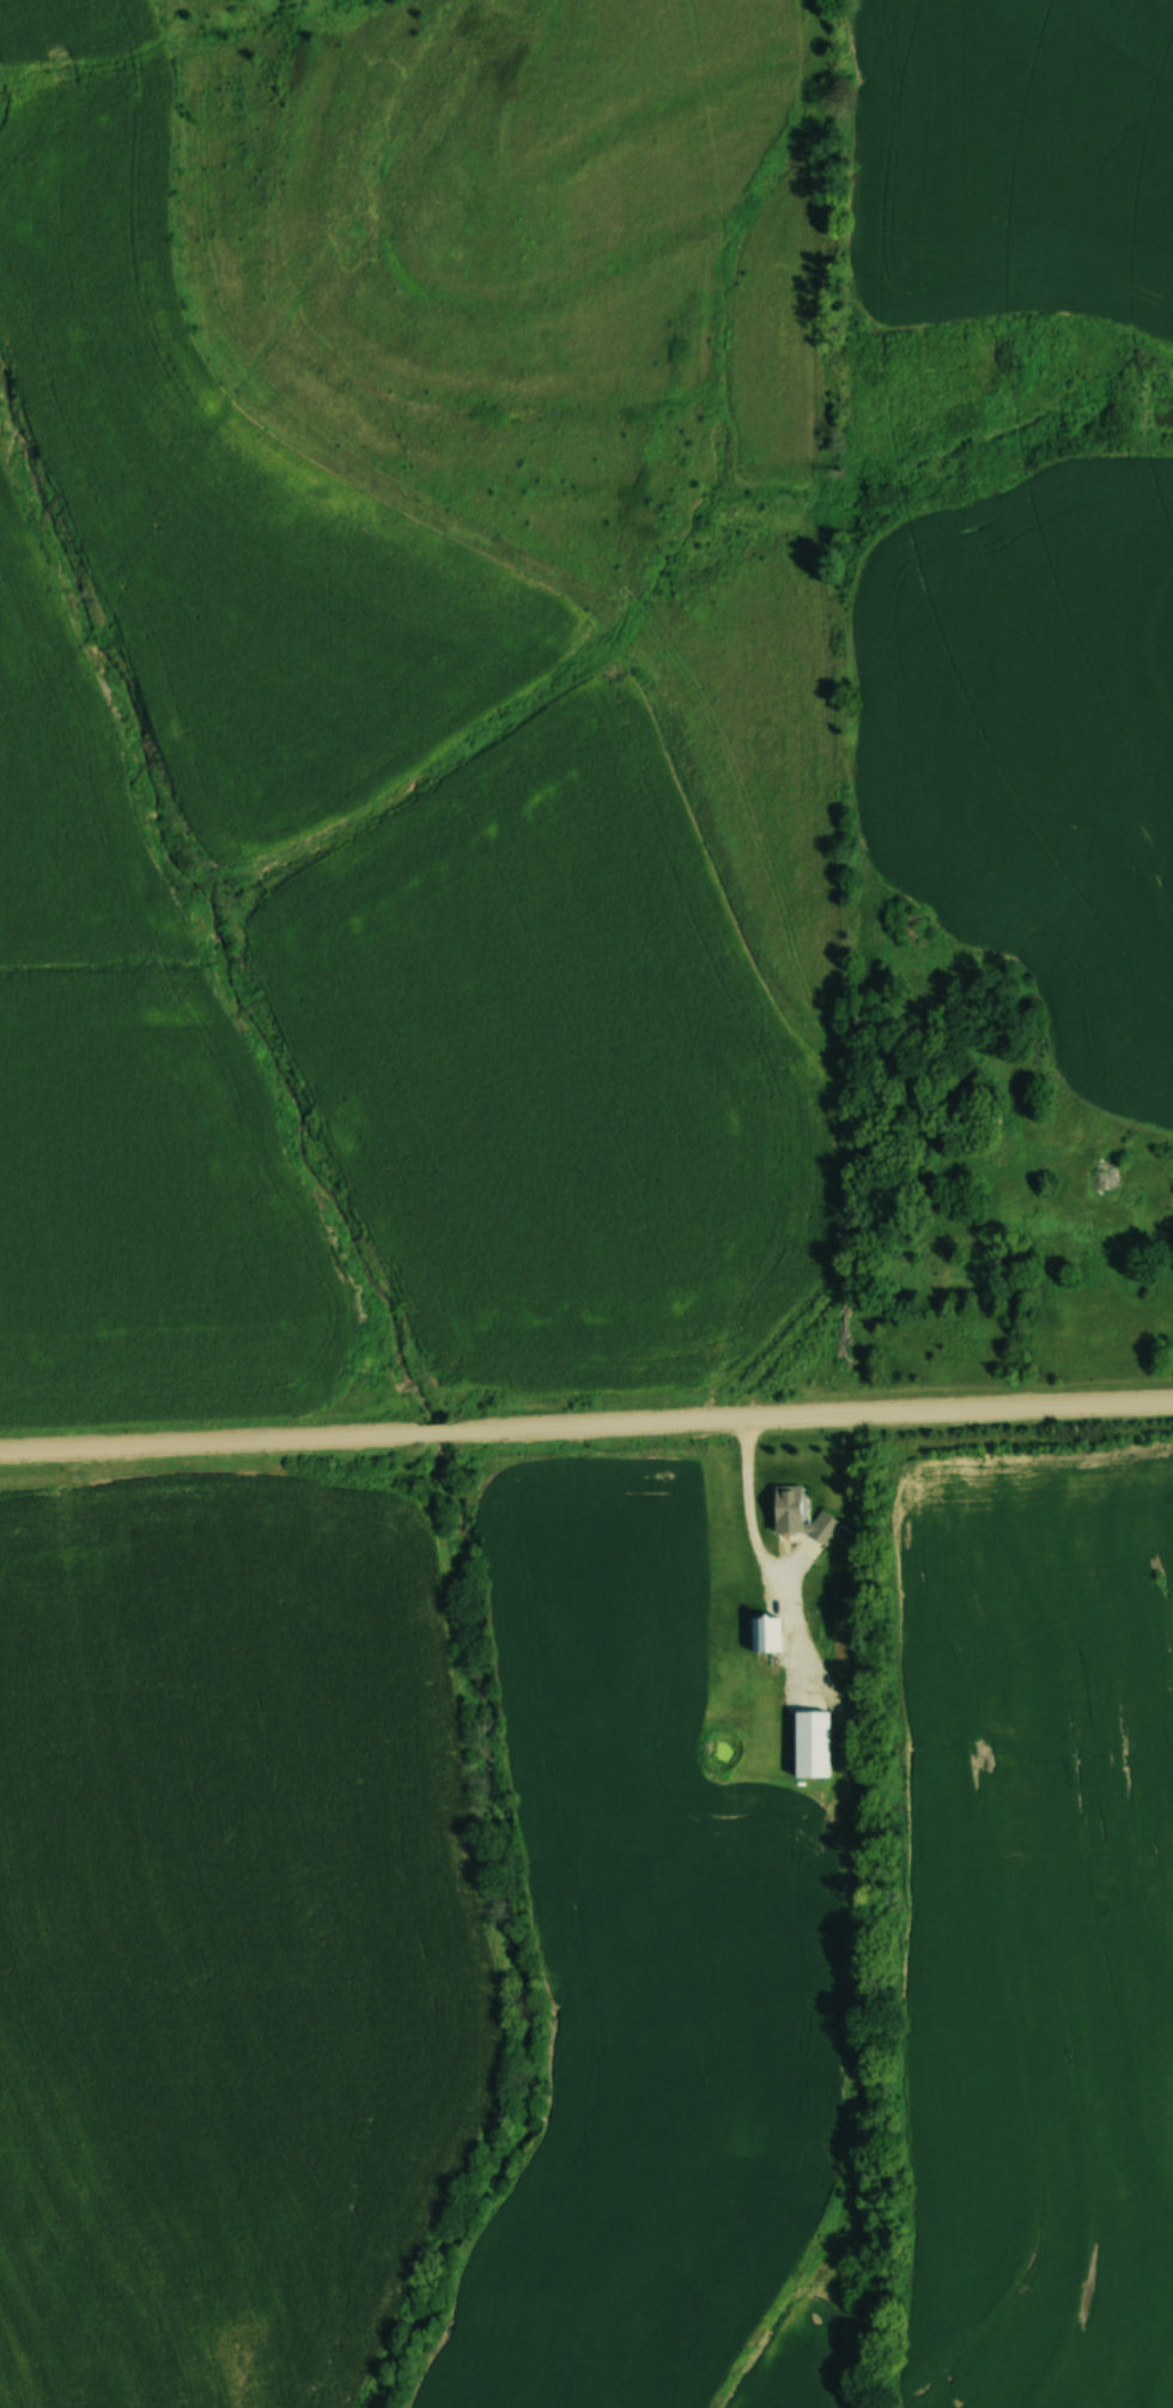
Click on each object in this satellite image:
building: (6, 7)
road: (586, 1431)
building: (795, 1512)
road: (754, 1514)
building: (764, 1631)
building: (810, 1742)

